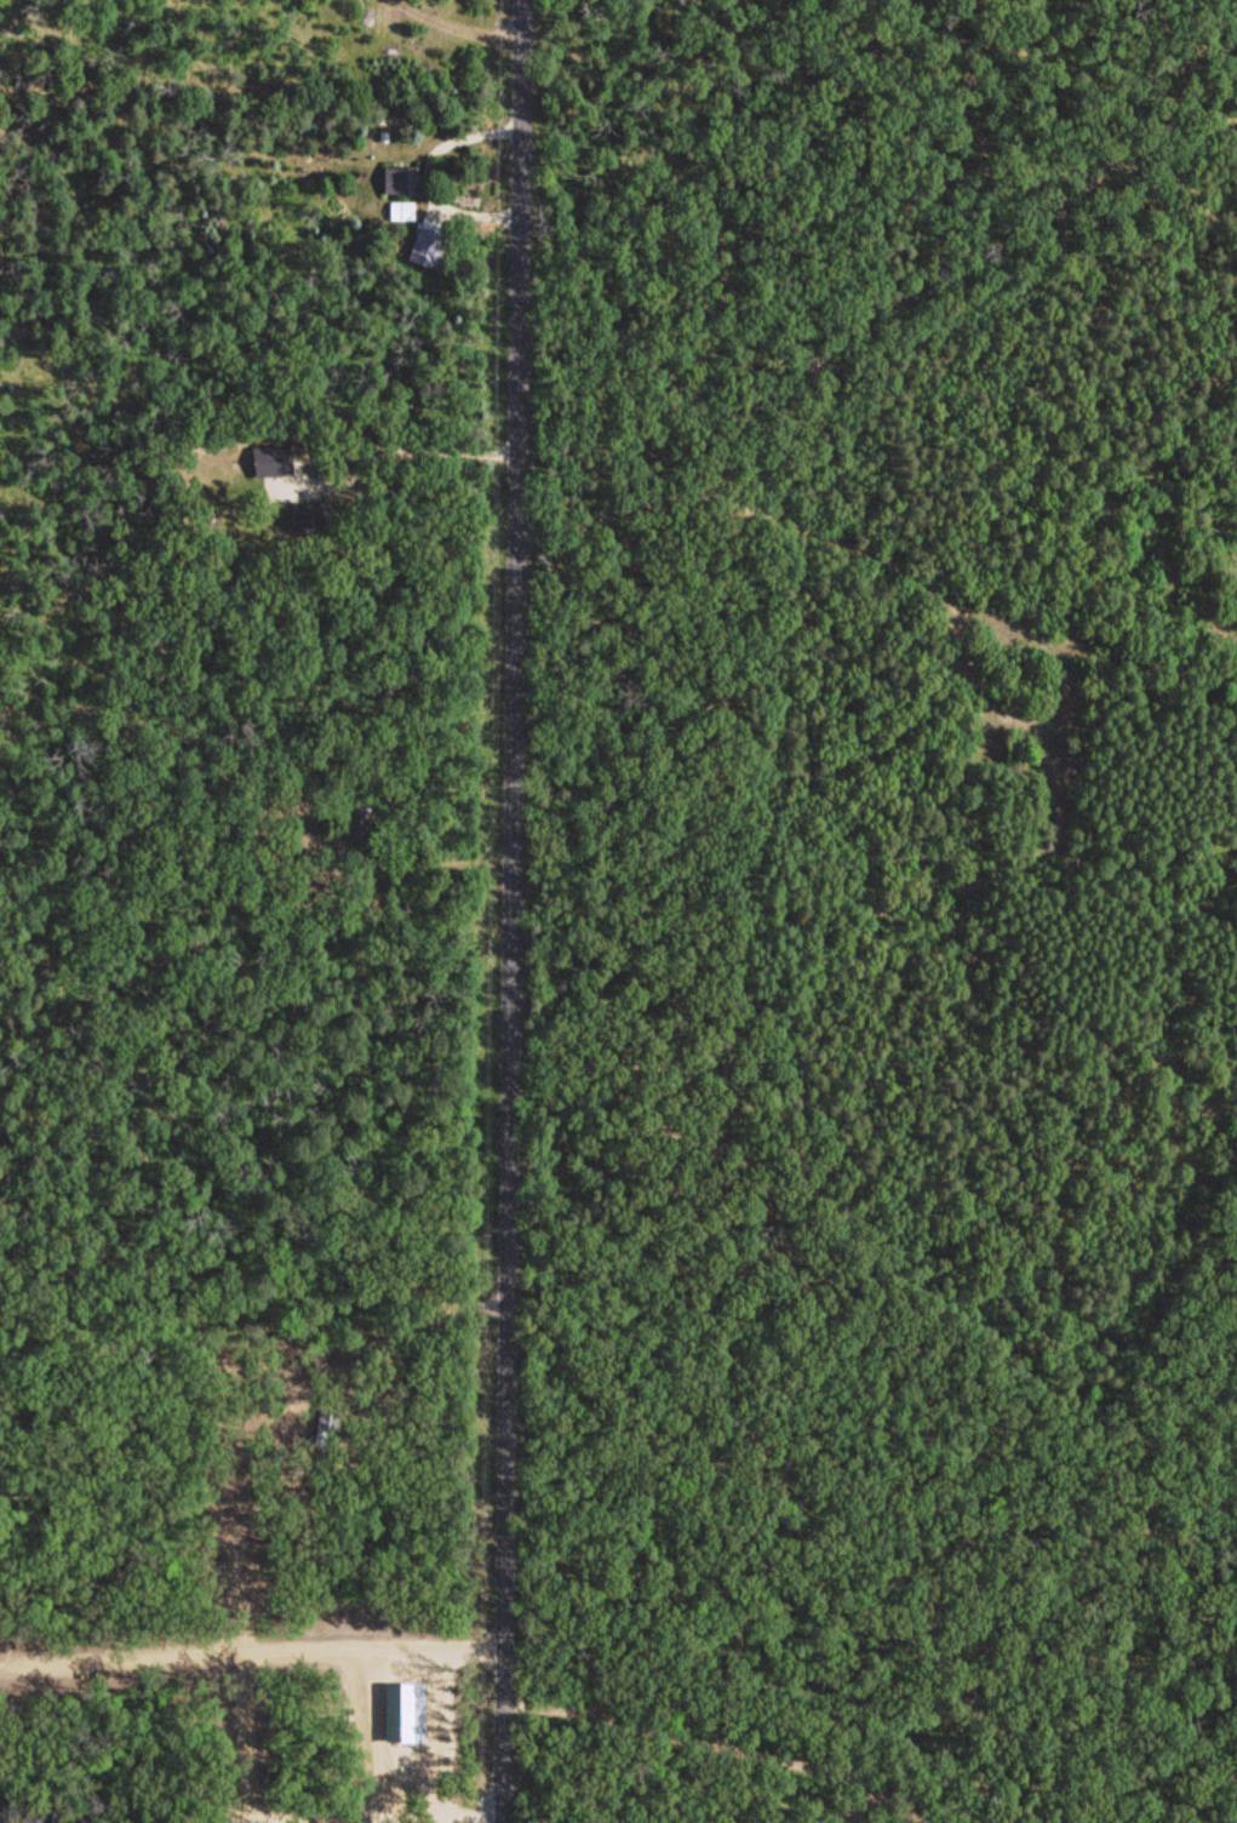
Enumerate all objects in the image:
building: (400, 177)
building: (402, 208)
building: (271, 458)
road: (504, 910)
road: (382, 1359)
building: (327, 1416)
building: (7, 1805)
building: (52, 1811)
road: (345, 1811)

